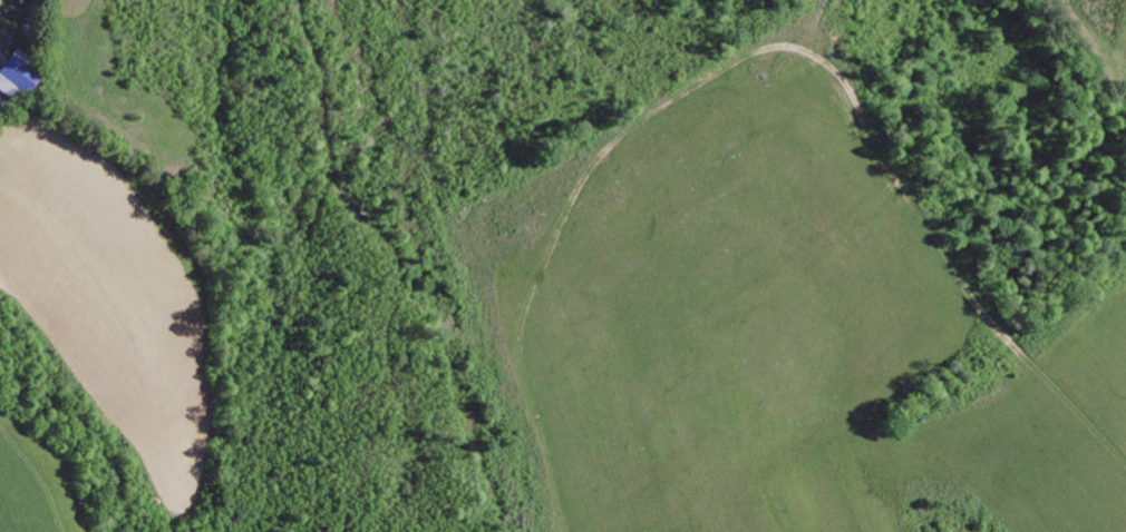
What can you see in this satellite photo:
building: (26, 0)
building: (14, 79)

